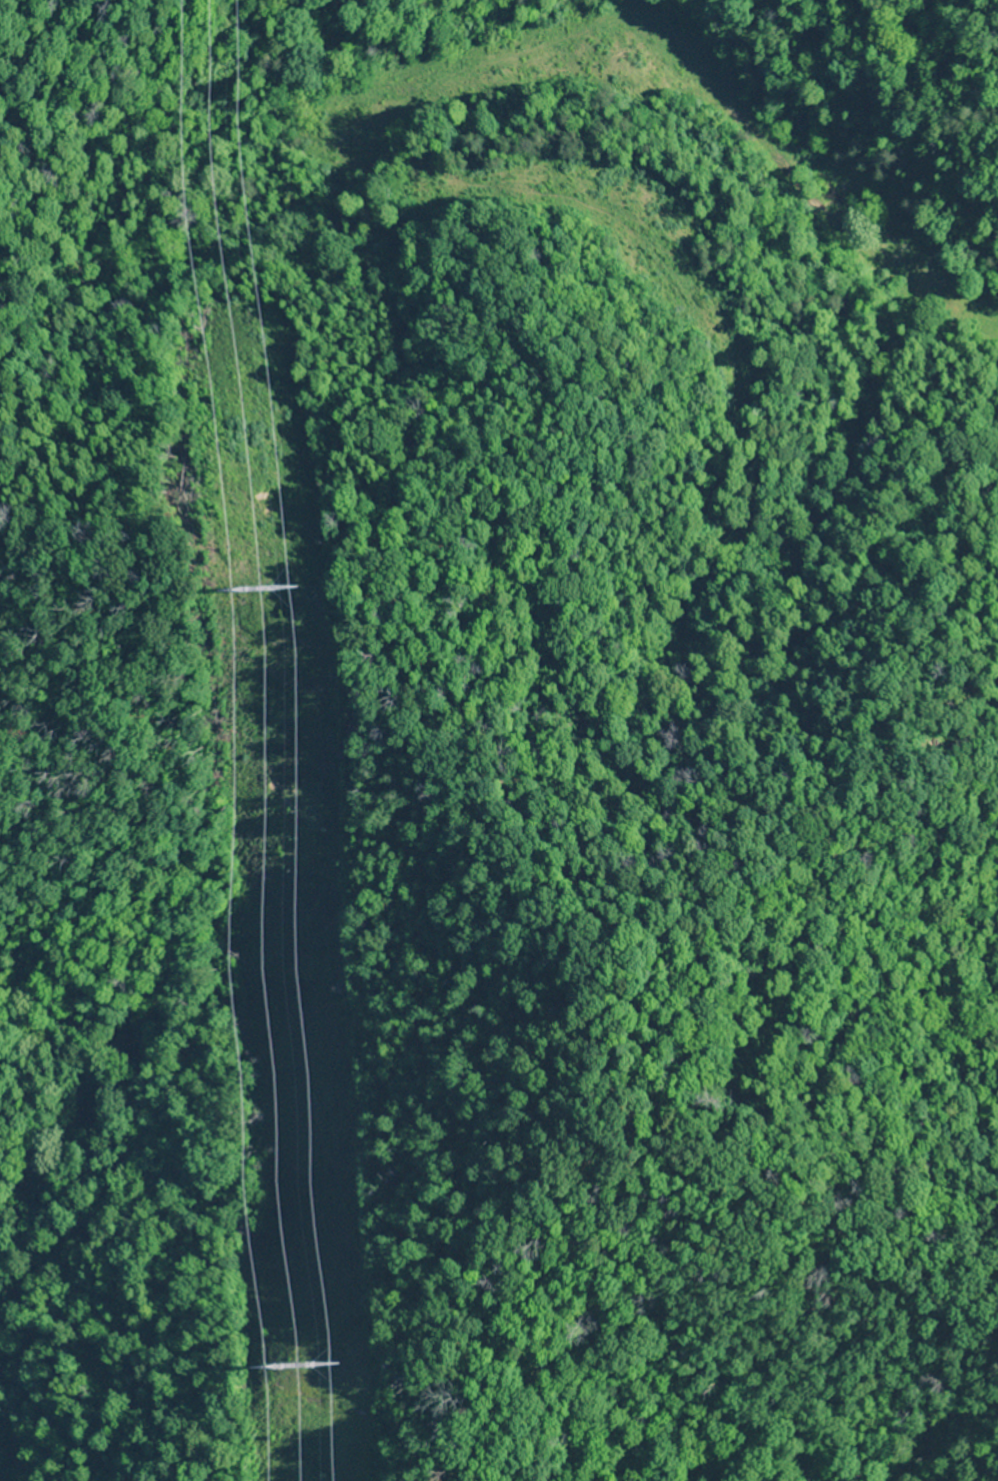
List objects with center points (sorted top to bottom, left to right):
power tower: (270, 611)
power tower: (309, 1396)

